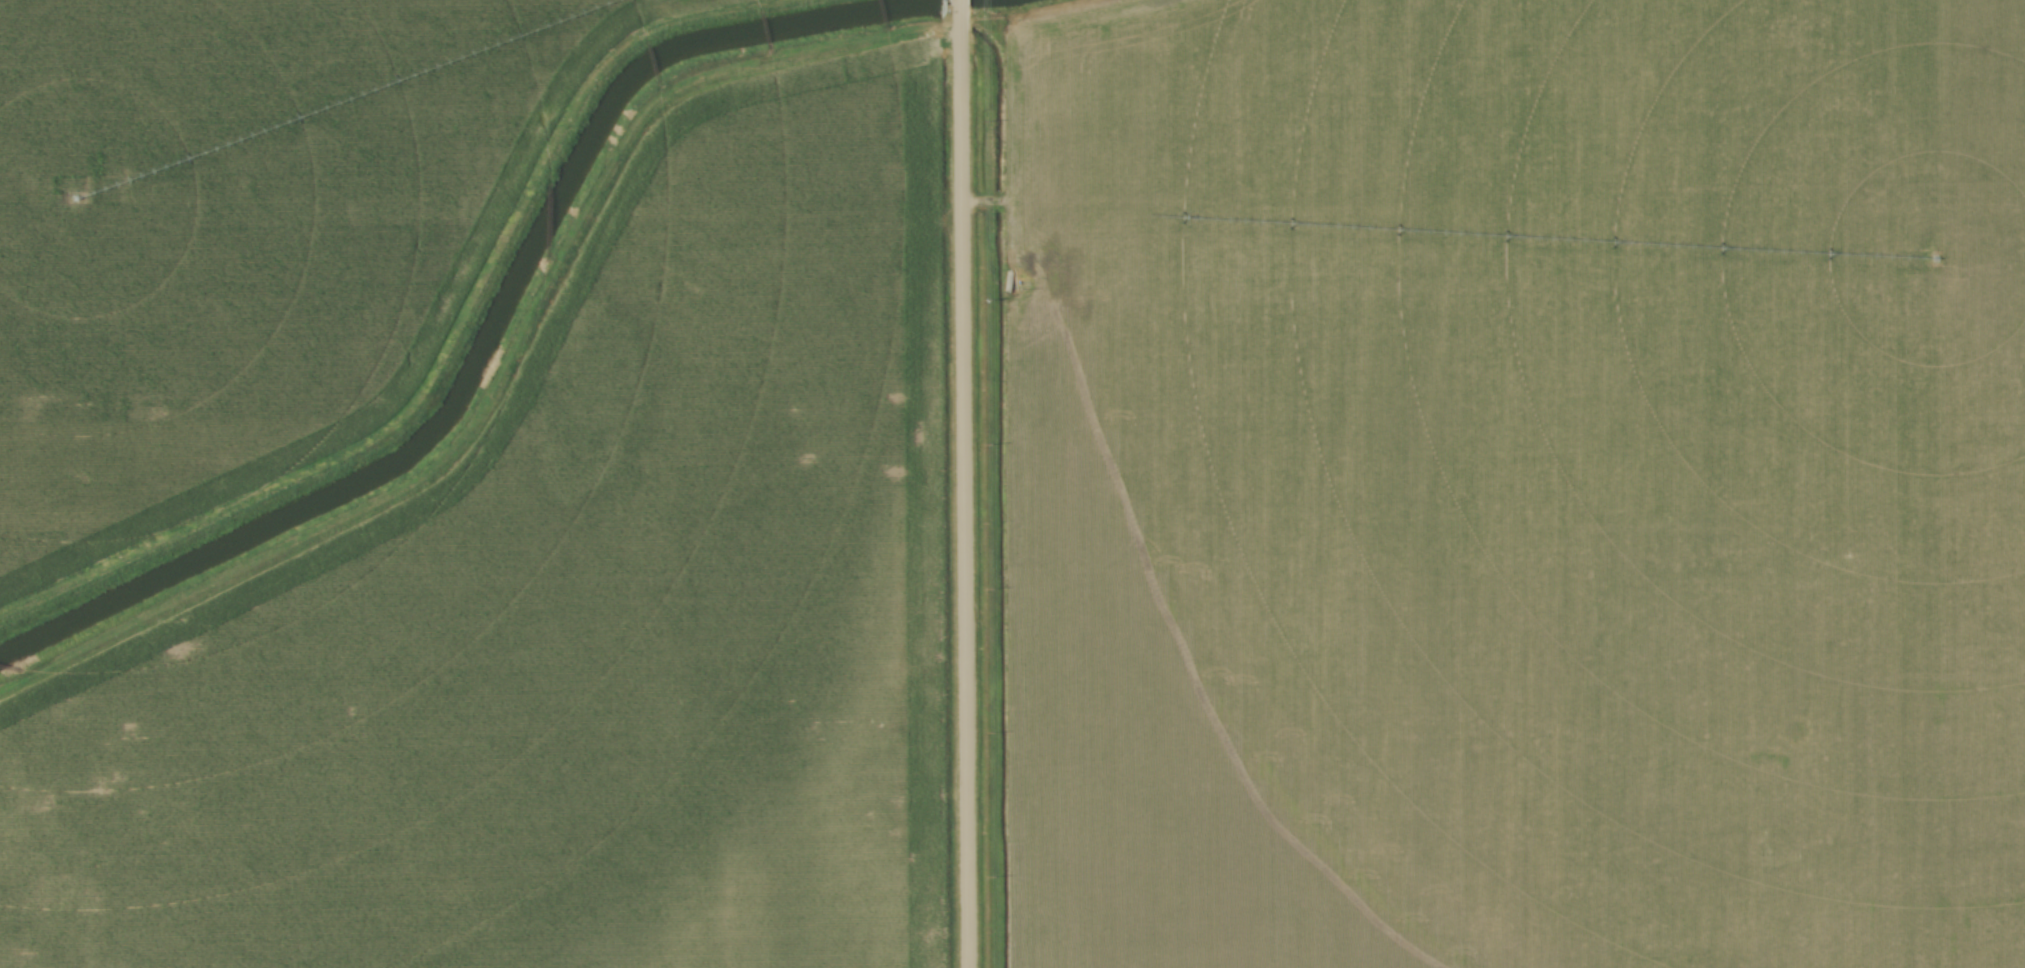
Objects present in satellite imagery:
crop: (247, 231)
crop: (1516, 483)
road: (961, 484)
crop: (574, 625)

